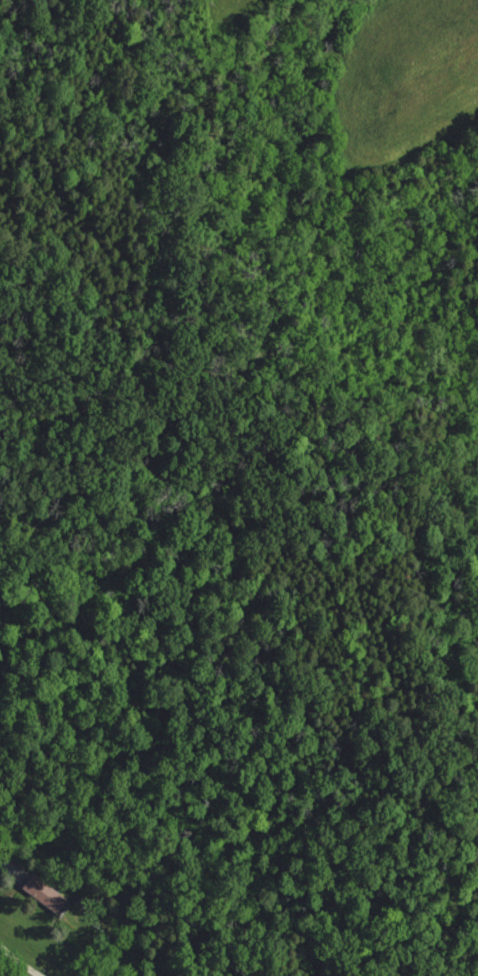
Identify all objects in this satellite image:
building: (46, 894)

